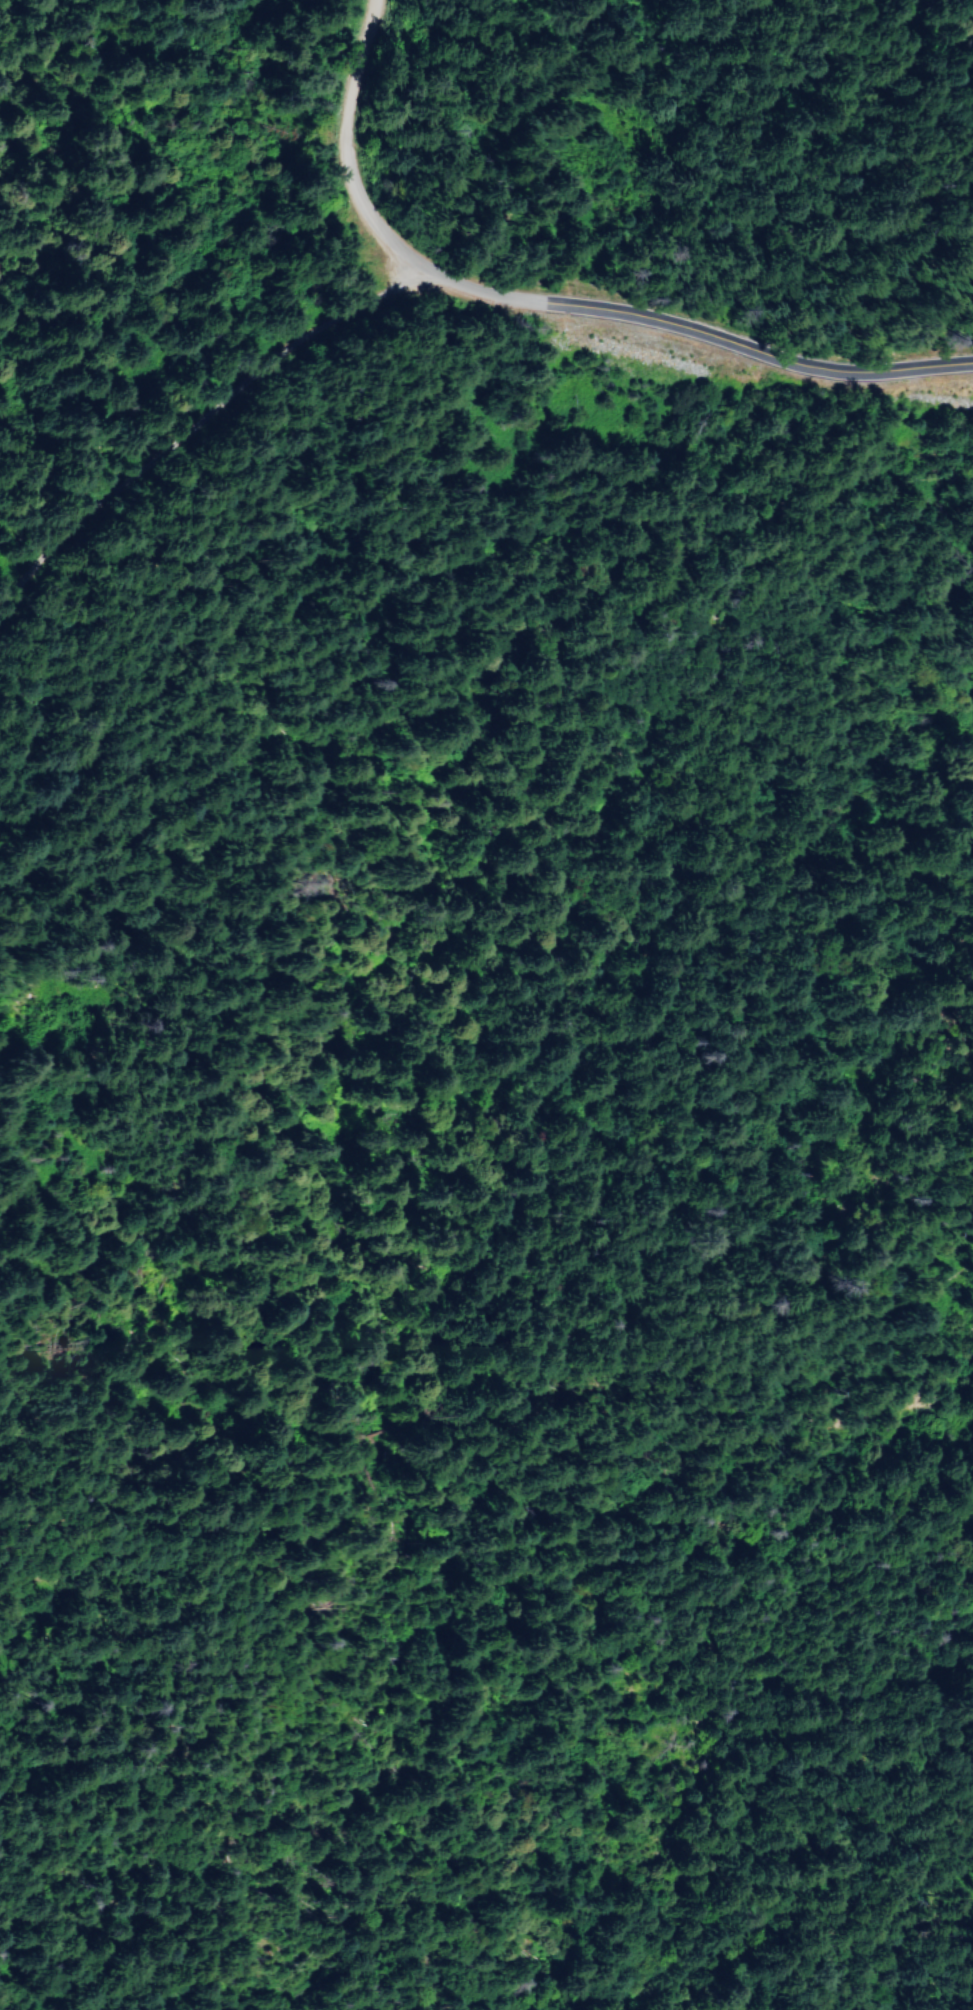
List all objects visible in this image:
road: (545, 297)
road: (168, 394)

